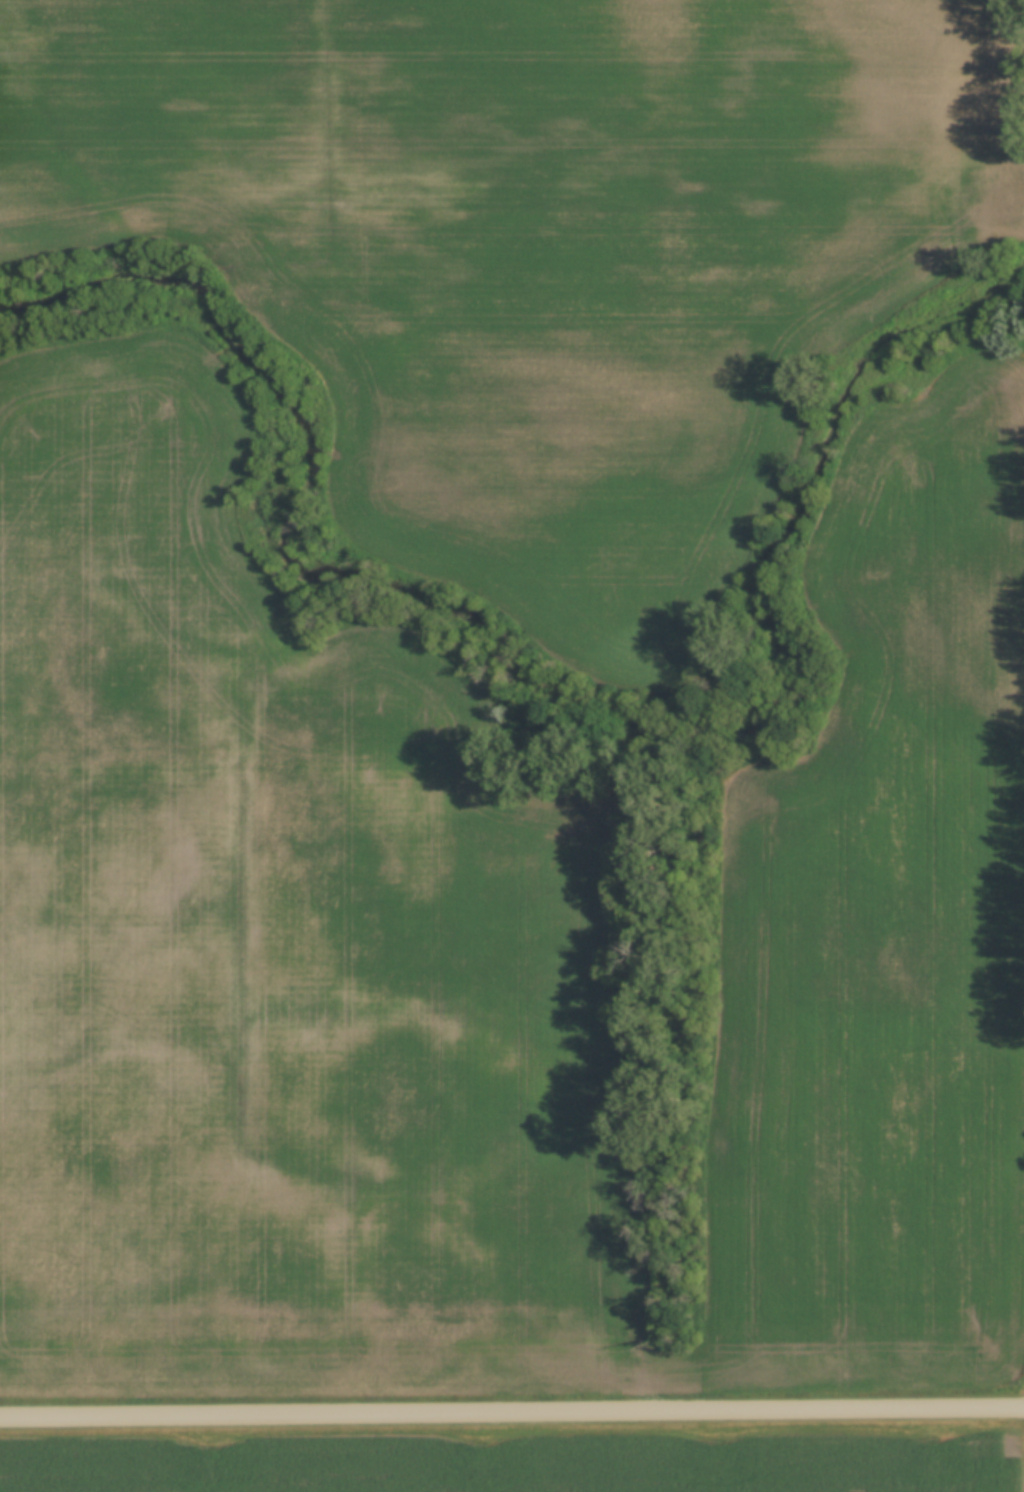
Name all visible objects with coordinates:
road: (512, 1415)

